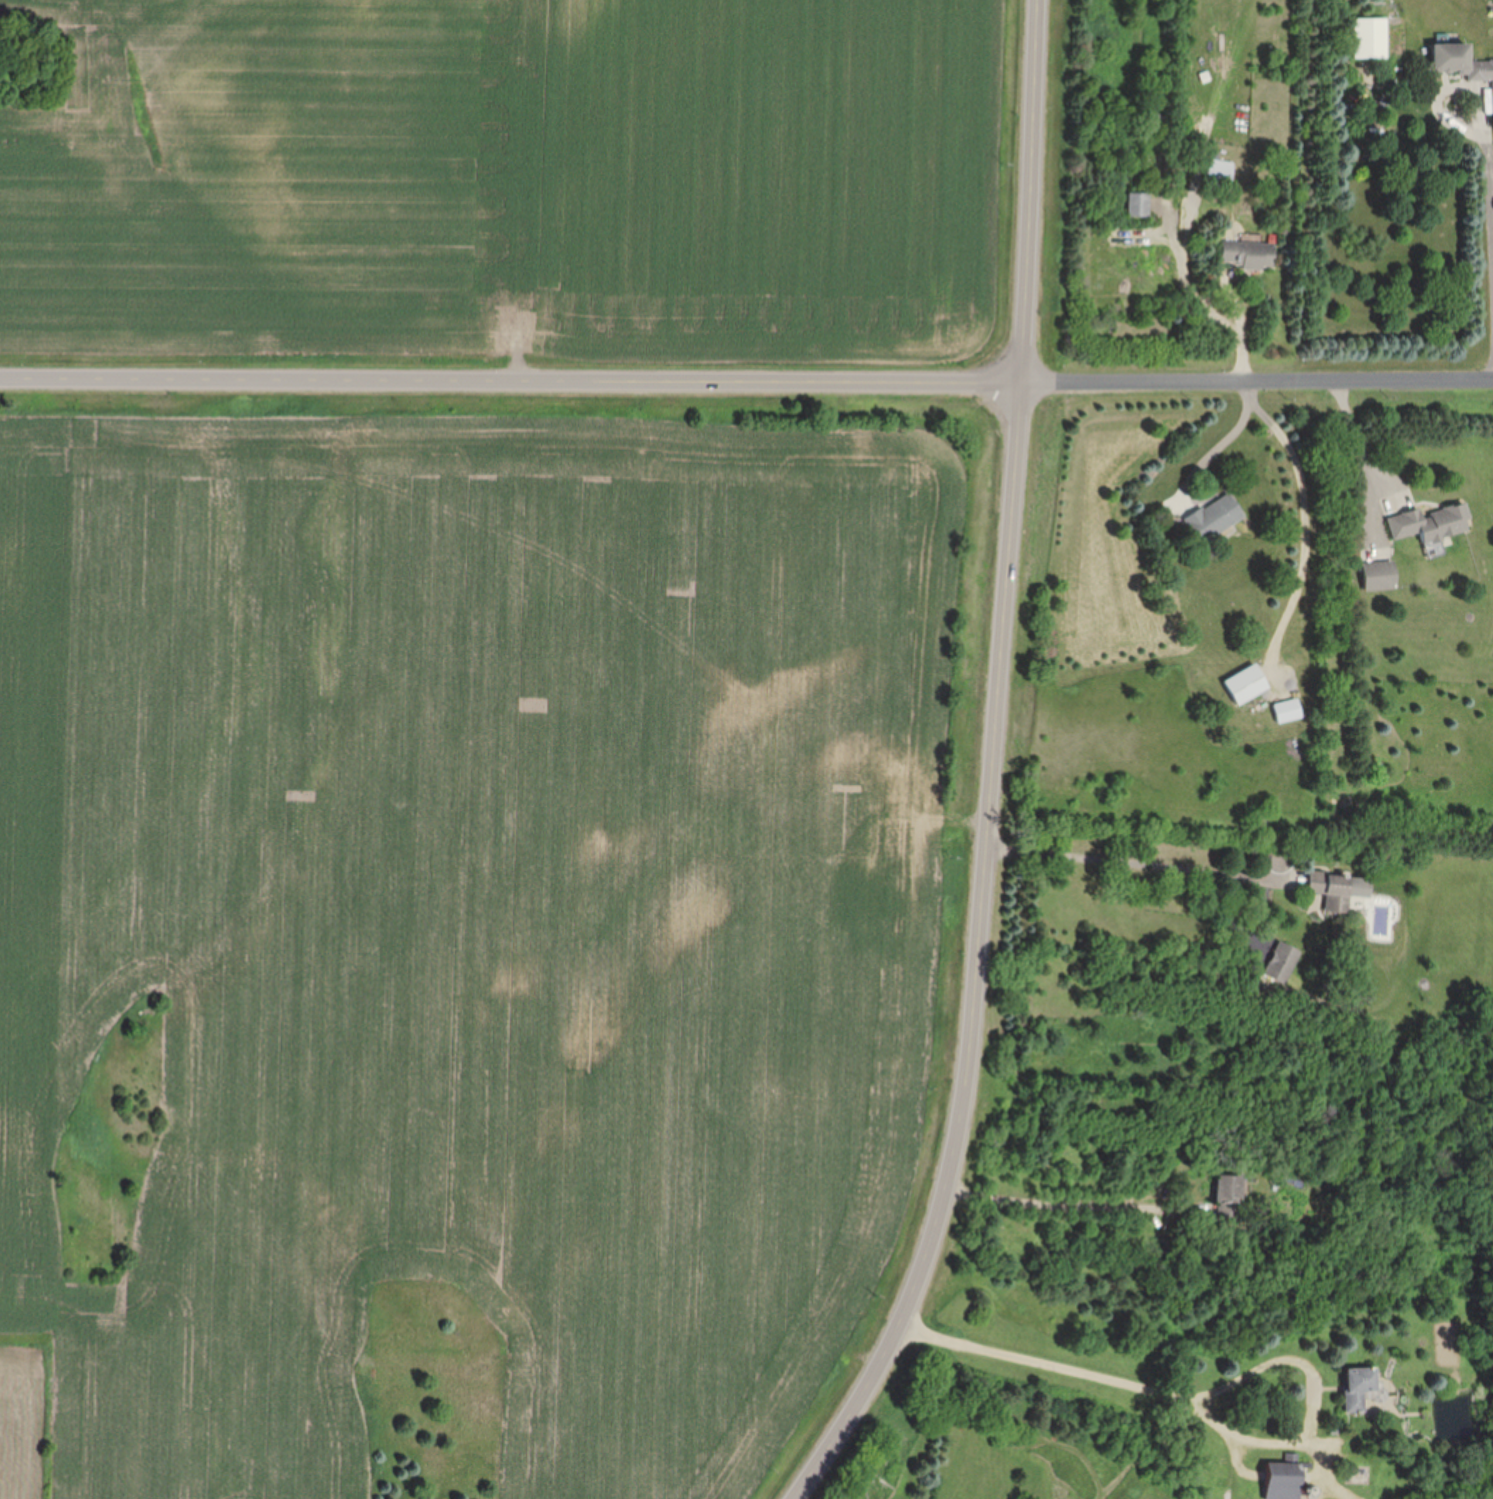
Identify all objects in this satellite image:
building: (1369, 39)
building: (1458, 63)
road: (1451, 122)
building: (1218, 175)
road: (1030, 191)
building: (1138, 206)
road: (1490, 226)
building: (1248, 256)
road: (1197, 291)
road: (511, 381)
road: (1257, 382)
road: (1365, 443)
road: (1216, 455)
building: (1214, 517)
road: (1306, 520)
building: (1430, 526)
building: (1380, 575)
building: (1246, 684)
building: (1288, 711)
road: (1139, 865)
building: (1333, 890)
road: (979, 961)
building: (1281, 962)
building: (1228, 1190)
road: (1070, 1203)
road: (1051, 1363)
road: (1313, 1375)
building: (1362, 1387)
building: (1283, 1481)

